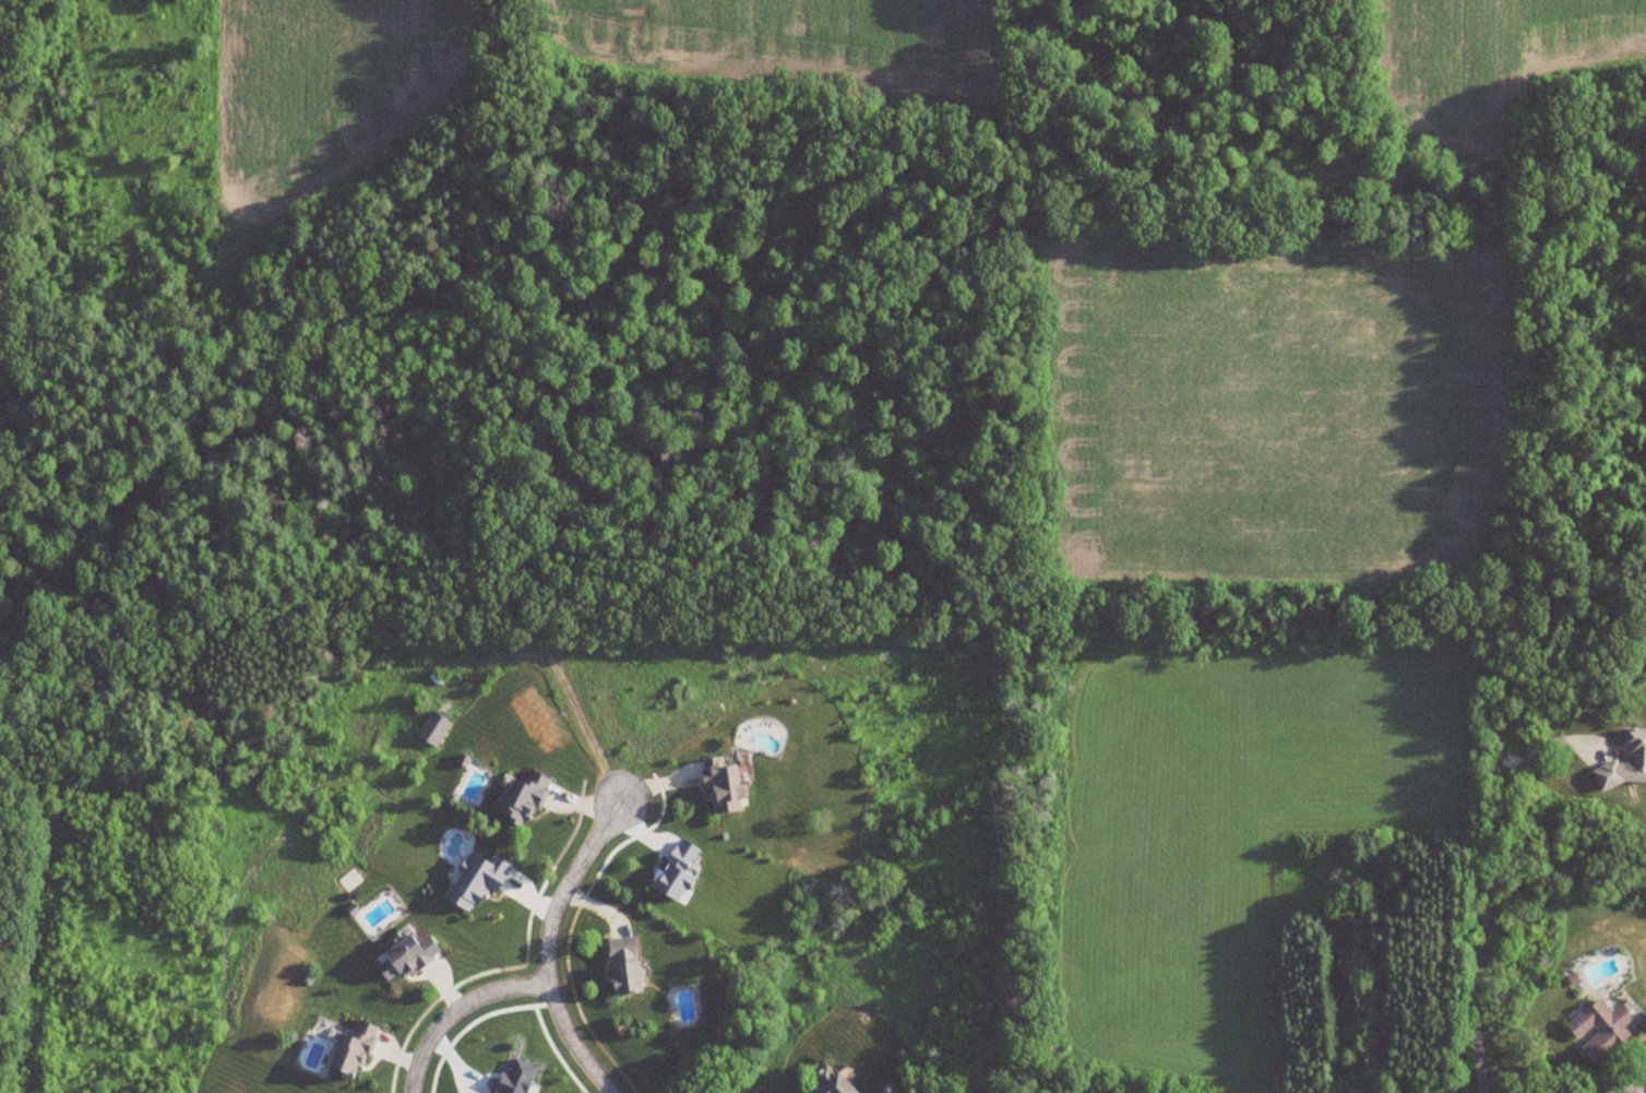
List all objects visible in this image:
building: (432, 729)
building: (1625, 764)
building: (723, 785)
building: (521, 800)
road: (1487, 906)
road: (548, 943)
building: (405, 955)
building: (623, 964)
road: (457, 1010)
building: (1599, 1029)
building: (351, 1050)
building: (827, 1082)
road: (1624, 1092)

